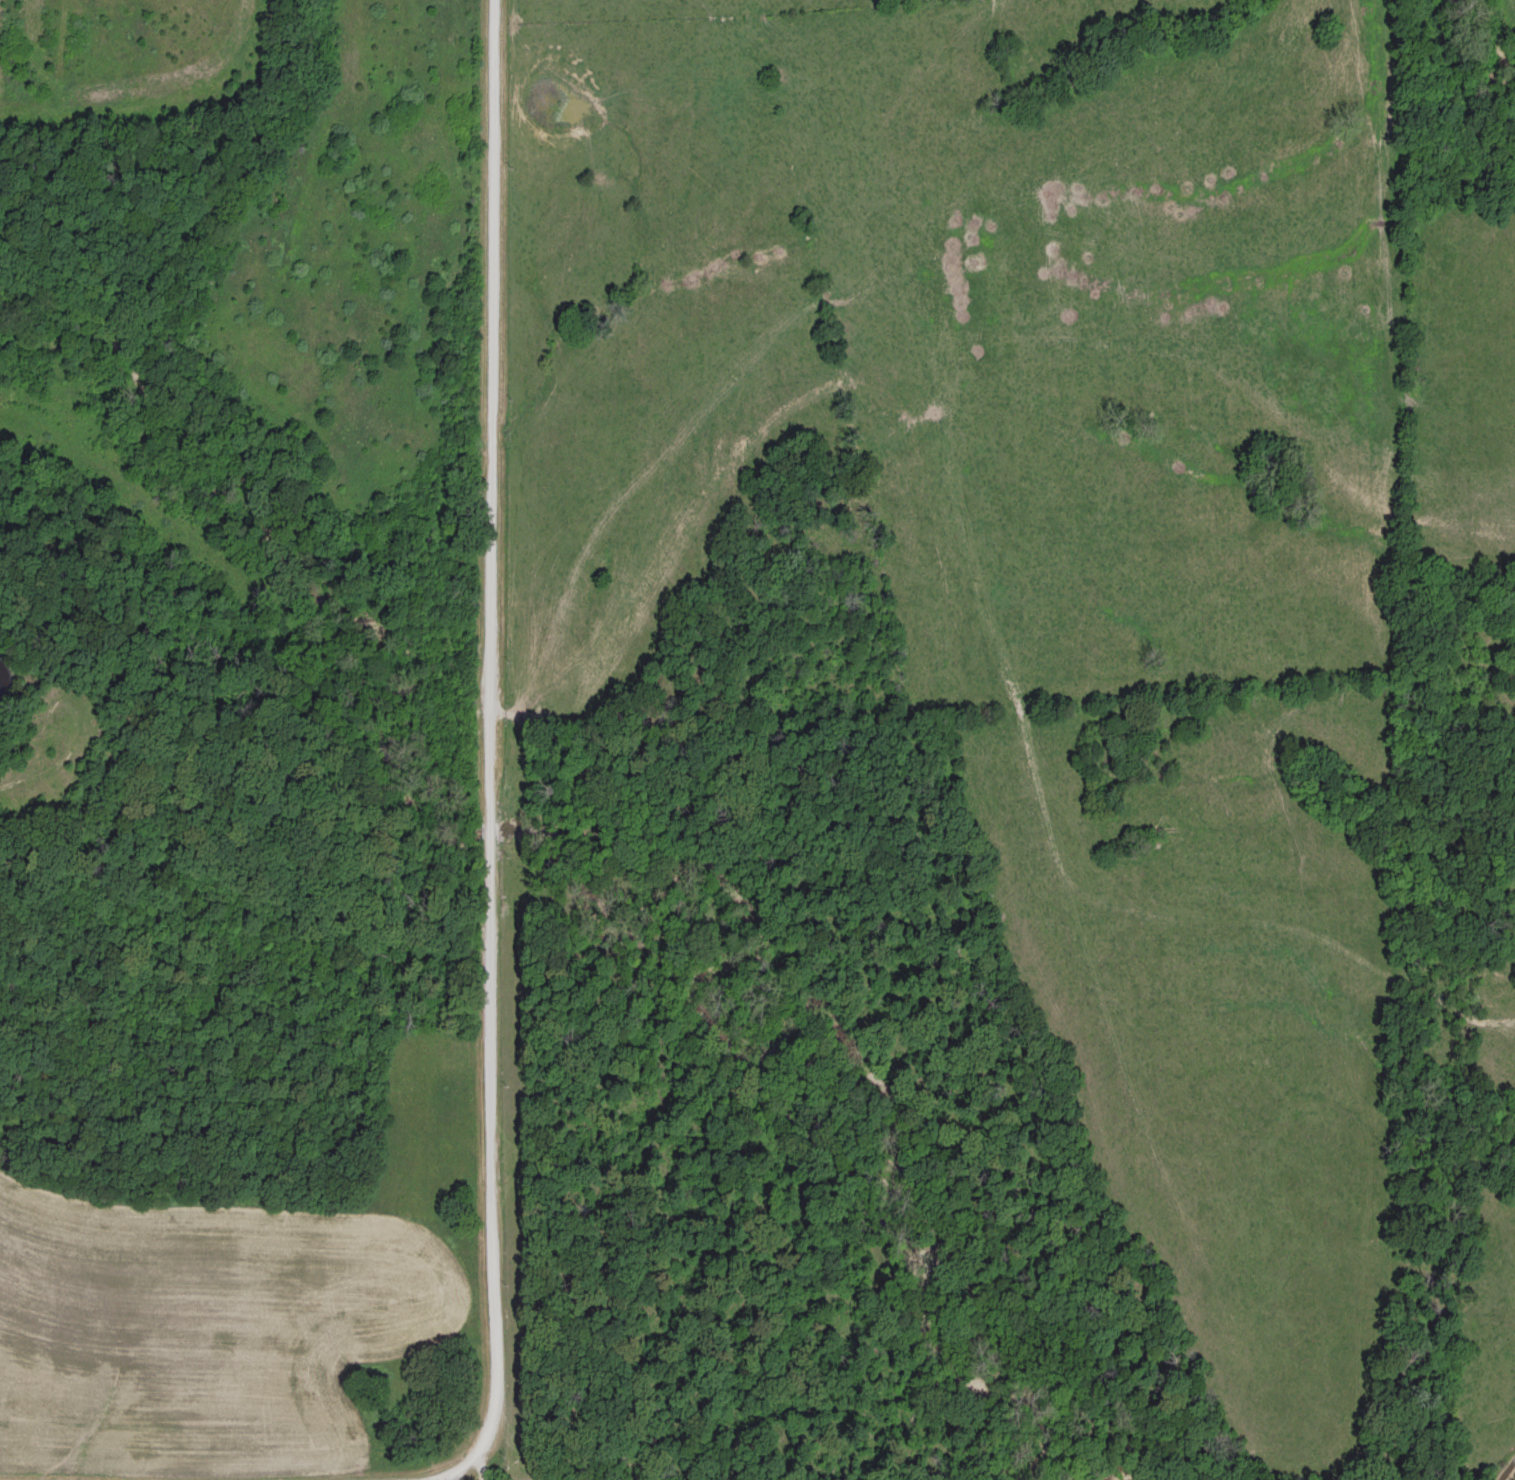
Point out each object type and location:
road: (486, 752)
road: (482, 1477)

